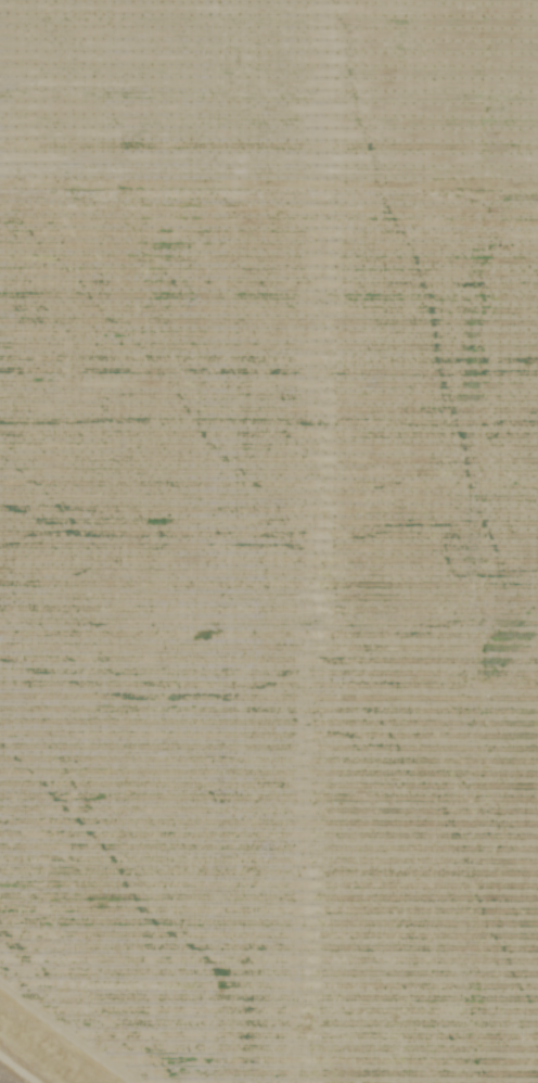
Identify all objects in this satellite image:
crop: (270, 538)

